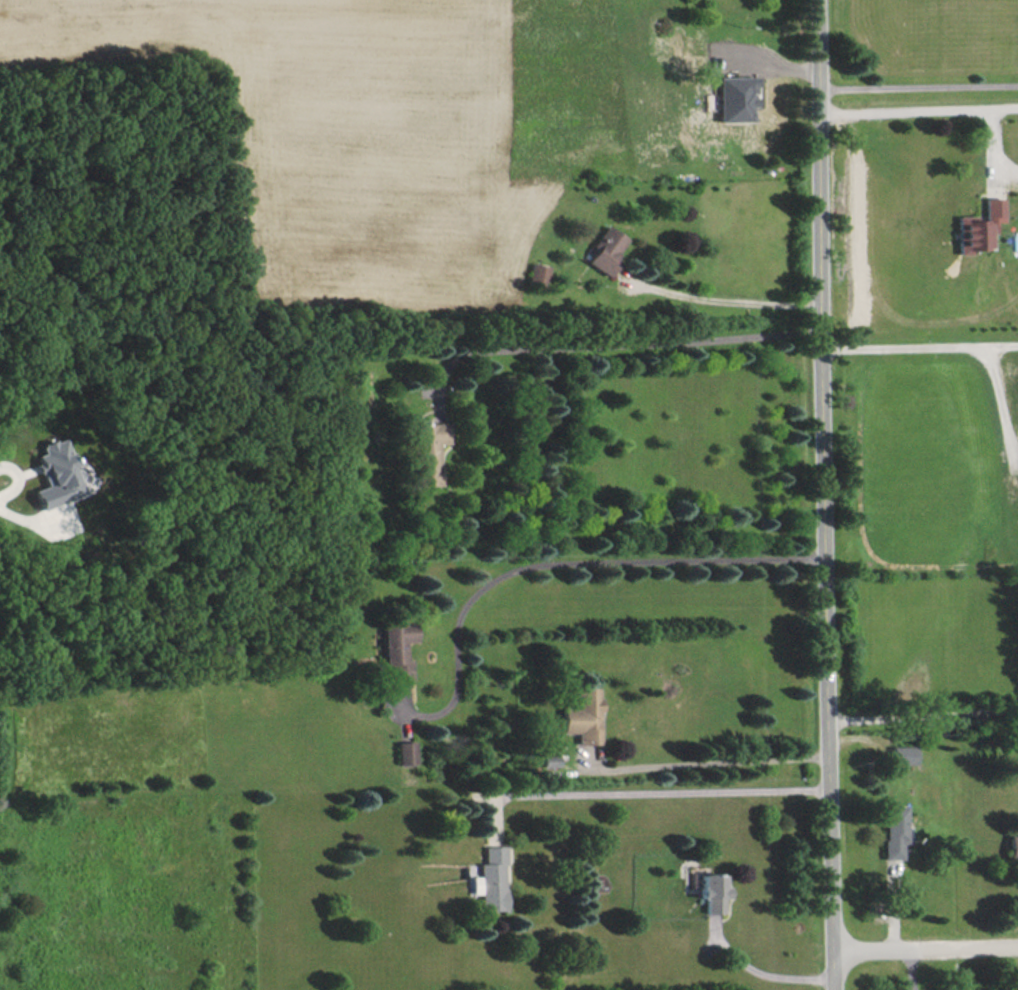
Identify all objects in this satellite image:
road: (769, 58)
road: (918, 84)
building: (734, 98)
road: (919, 110)
building: (980, 226)
building: (605, 249)
building: (539, 272)
road: (724, 299)
road: (920, 345)
road: (614, 346)
building: (345, 384)
road: (1007, 397)
building: (431, 451)
building: (57, 474)
road: (825, 494)
road: (16, 514)
road: (556, 554)
building: (398, 647)
road: (924, 713)
building: (583, 715)
building: (406, 752)
building: (904, 754)
building: (549, 760)
road: (707, 763)
road: (660, 791)
building: (894, 830)
building: (1013, 845)
building: (489, 879)
building: (712, 891)
road: (925, 950)
road: (761, 974)

